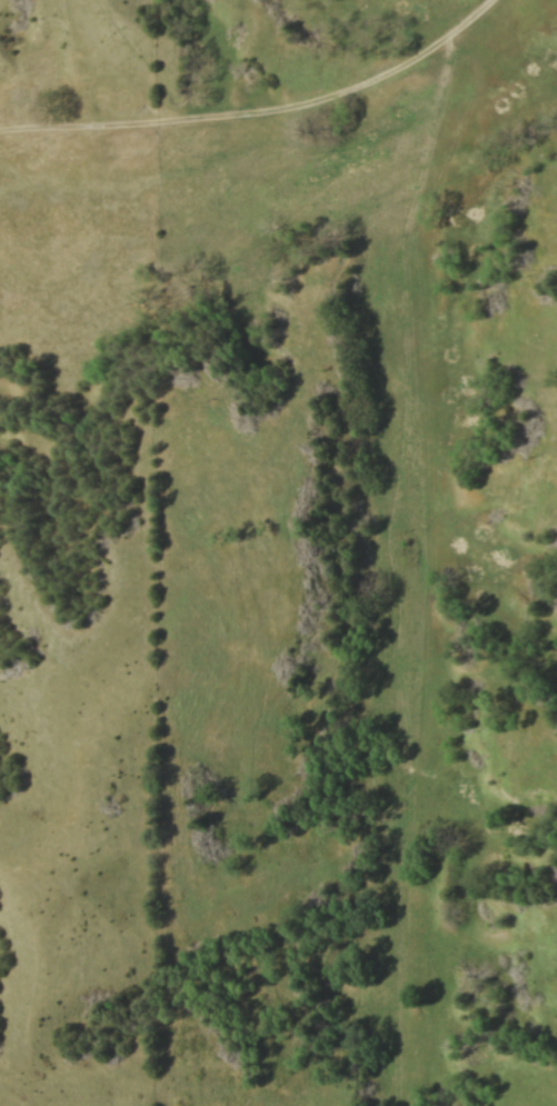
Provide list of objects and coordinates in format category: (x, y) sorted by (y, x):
road: (256, 110)

